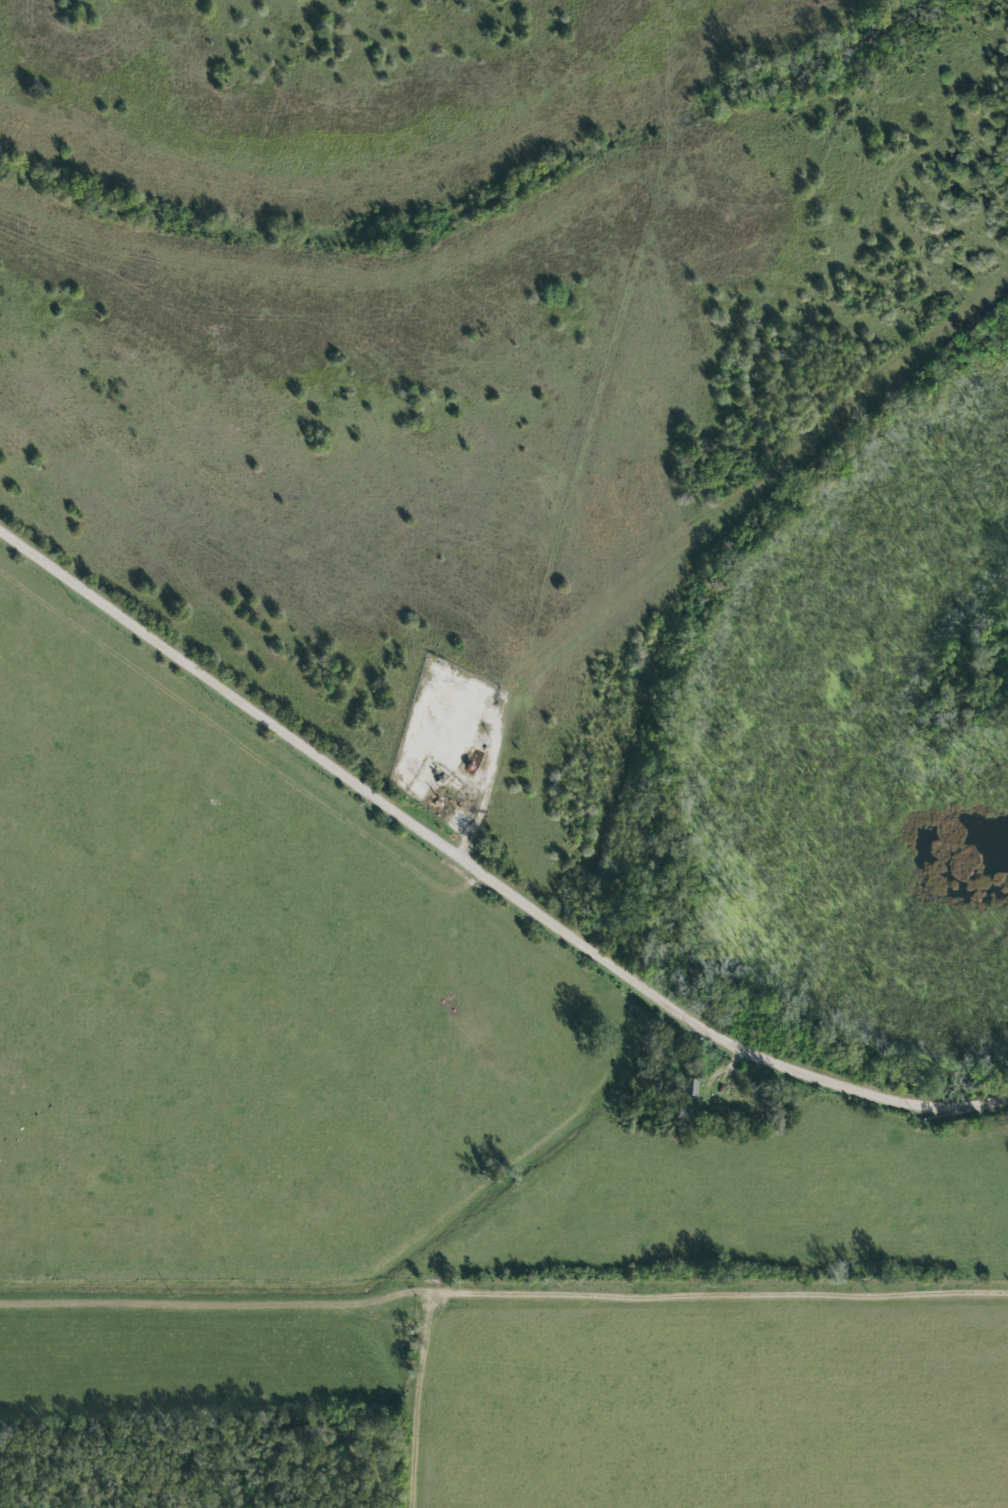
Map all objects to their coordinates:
road: (481, 870)
road: (503, 1294)

